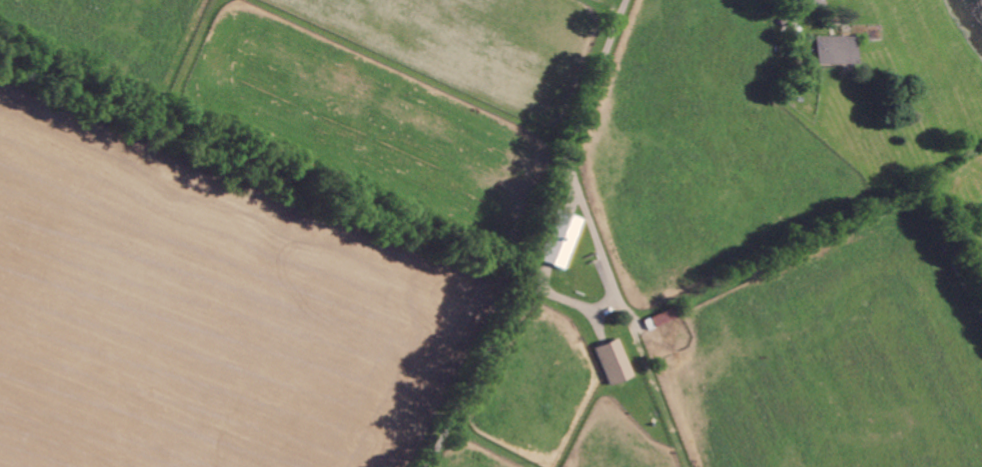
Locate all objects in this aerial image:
road: (793, 12)
building: (834, 49)
road: (541, 236)
building: (561, 239)
road: (601, 251)
road: (575, 307)
building: (662, 318)
building: (615, 361)

